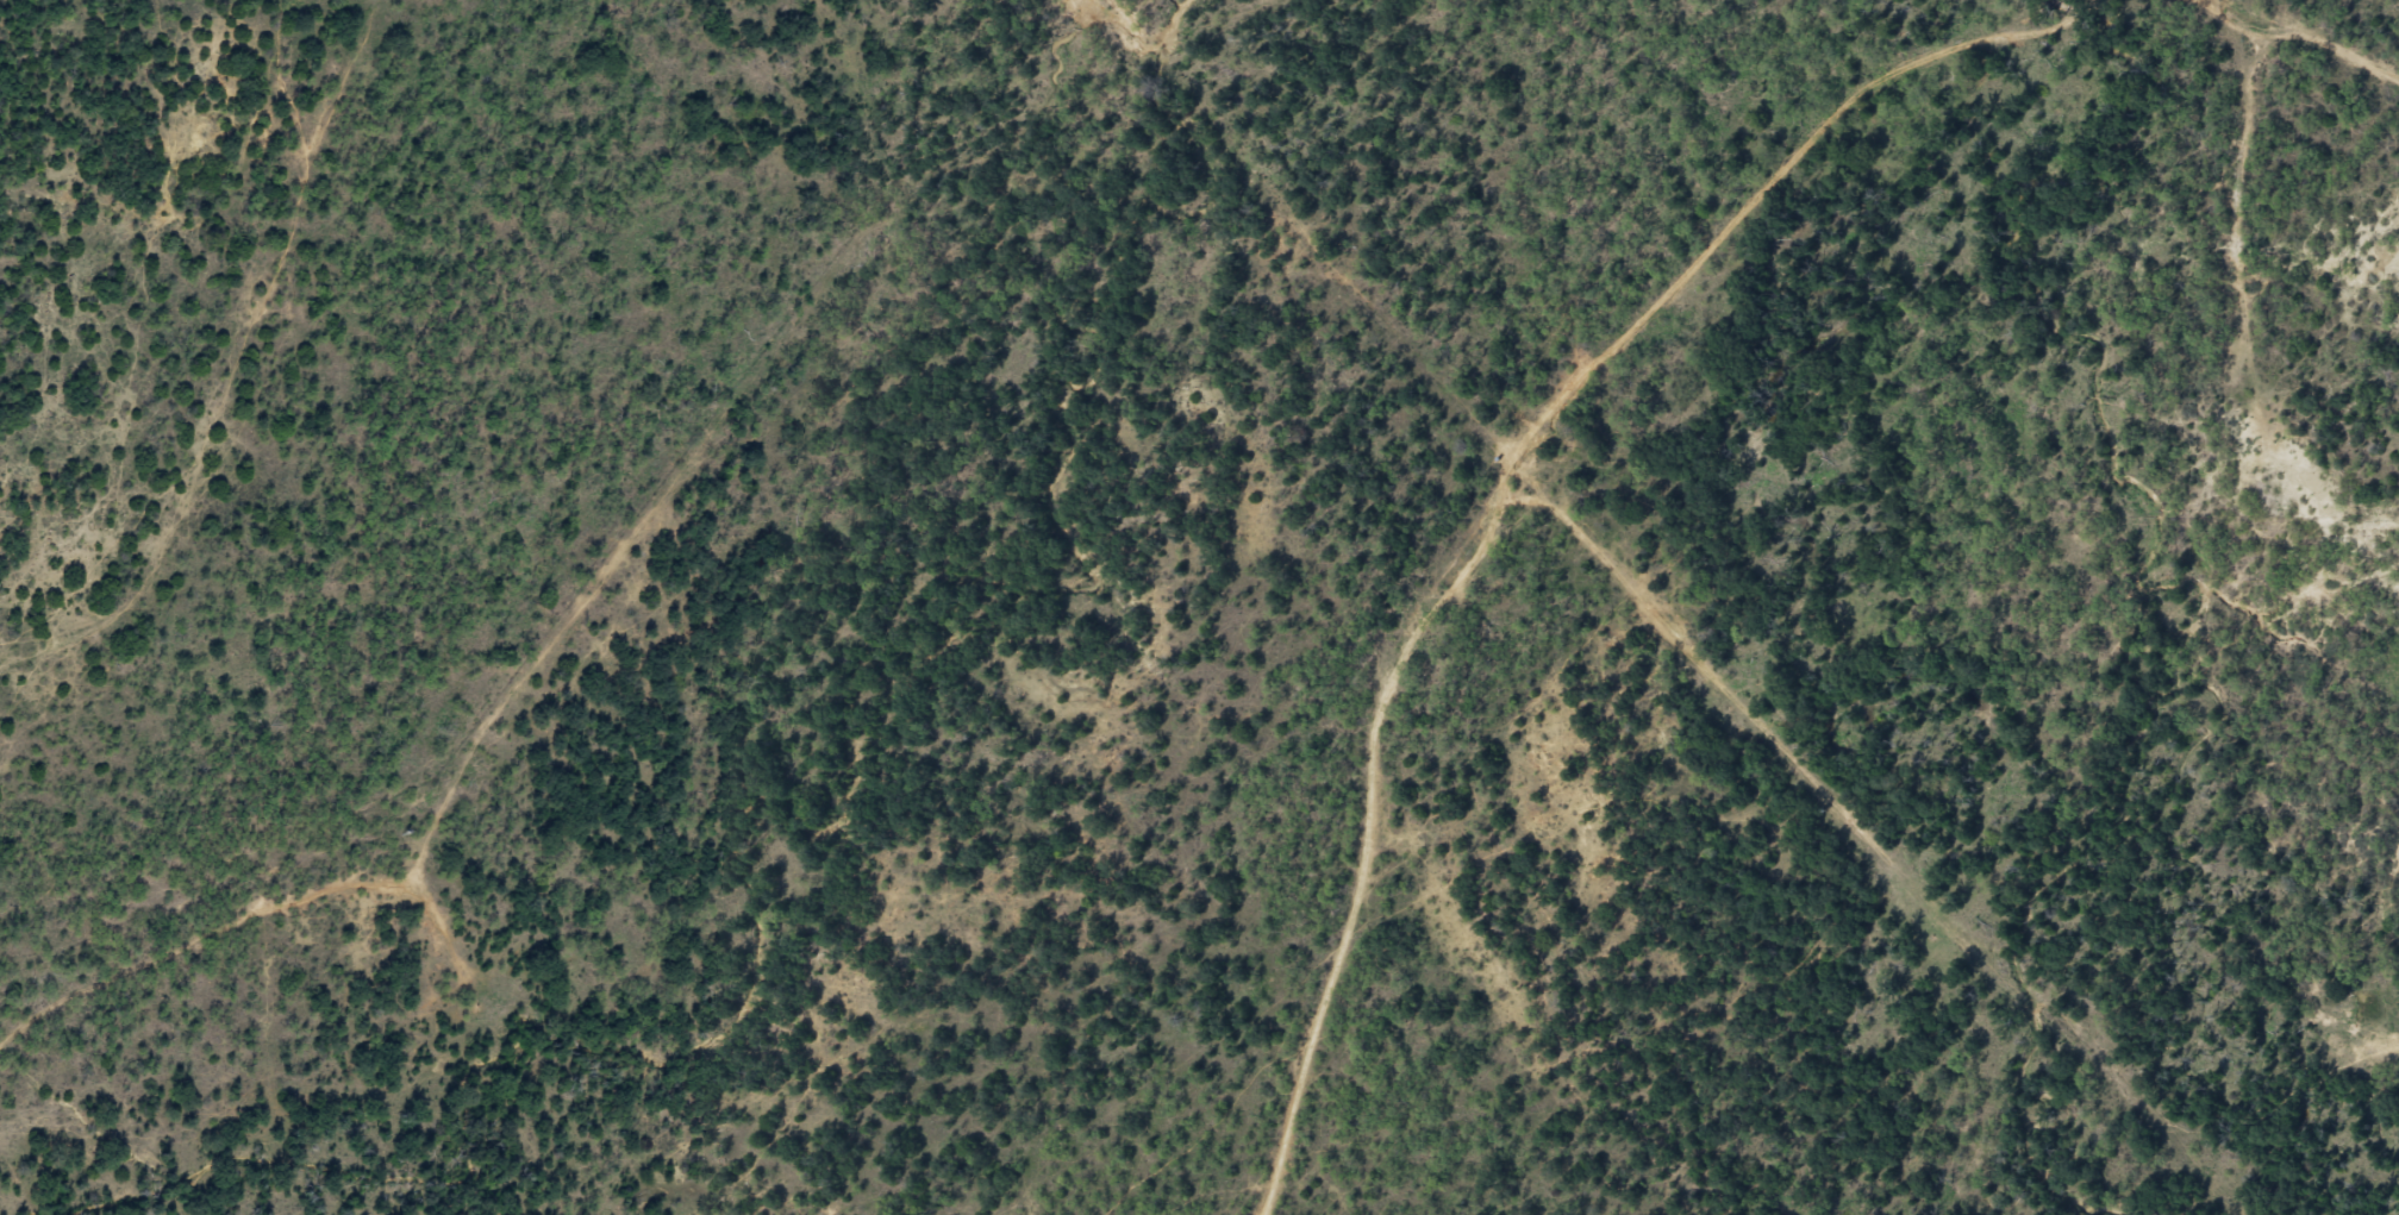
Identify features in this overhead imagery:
road: (2387, 46)
road: (1622, 395)

